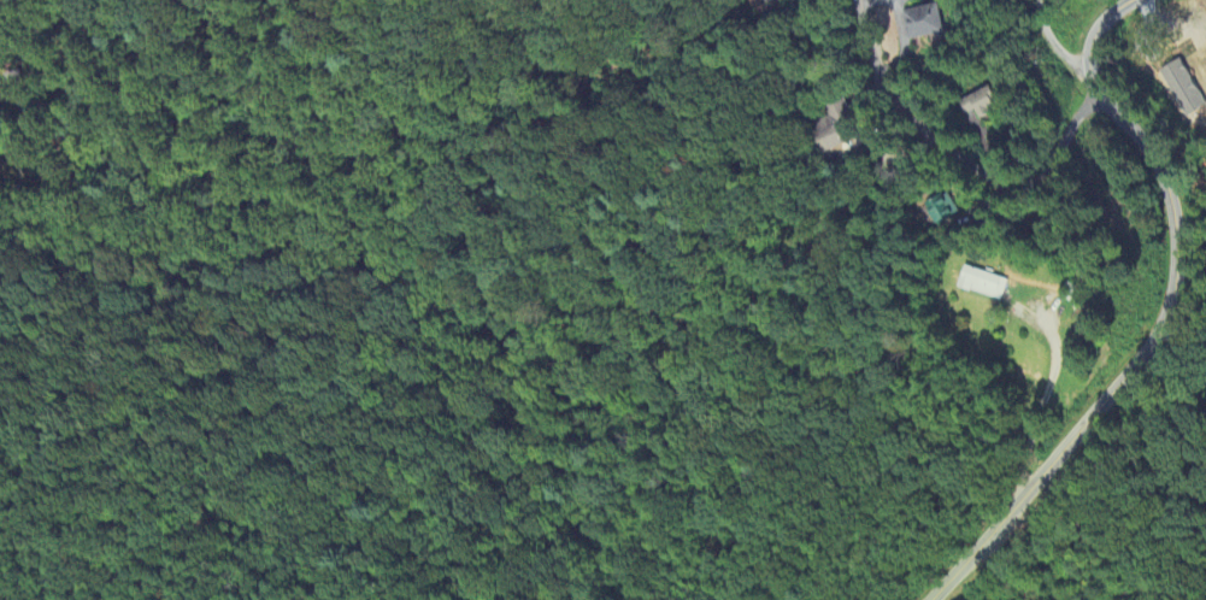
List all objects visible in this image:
building: (923, 23)
road: (1053, 46)
building: (1179, 89)
road: (960, 154)
building: (981, 286)
road: (1167, 307)
road: (1043, 408)

